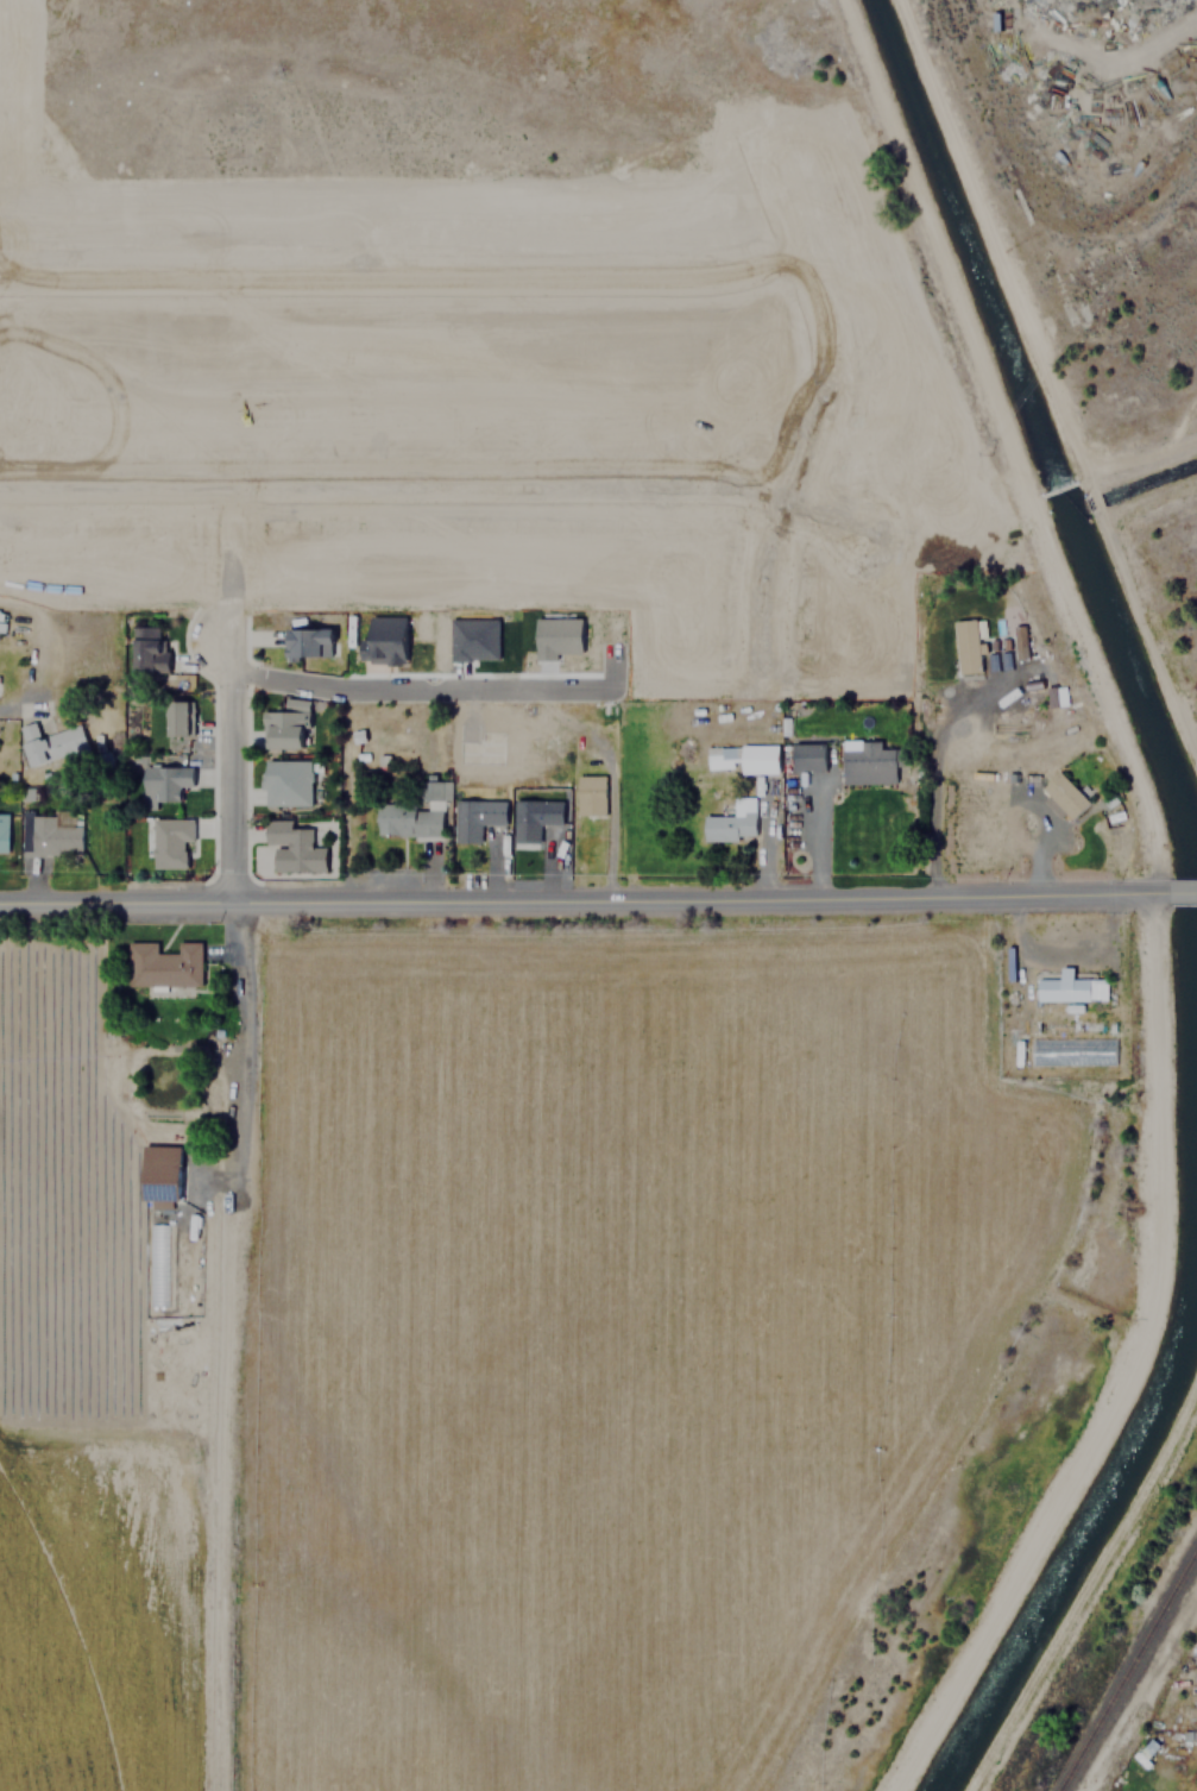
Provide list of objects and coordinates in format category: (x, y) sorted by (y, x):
building: (26, 136)
building: (309, 635)
building: (559, 636)
building: (383, 639)
building: (474, 639)
building: (1020, 641)
building: (965, 646)
building: (147, 649)
road: (435, 687)
building: (1058, 697)
building: (175, 727)
building: (278, 731)
building: (52, 743)
building: (748, 756)
building: (807, 756)
building: (870, 762)
road: (229, 765)
building: (165, 781)
building: (286, 783)
building: (436, 790)
building: (1060, 791)
building: (590, 794)
building: (474, 817)
building: (533, 818)
building: (408, 819)
building: (731, 822)
building: (2, 830)
building: (49, 832)
building: (171, 842)
building: (291, 848)
road: (598, 897)
building: (163, 964)
building: (1067, 987)
building: (158, 1186)
building: (153, 1264)
crop: (57, 1655)
railway: (1127, 1670)
building: (1147, 1748)

